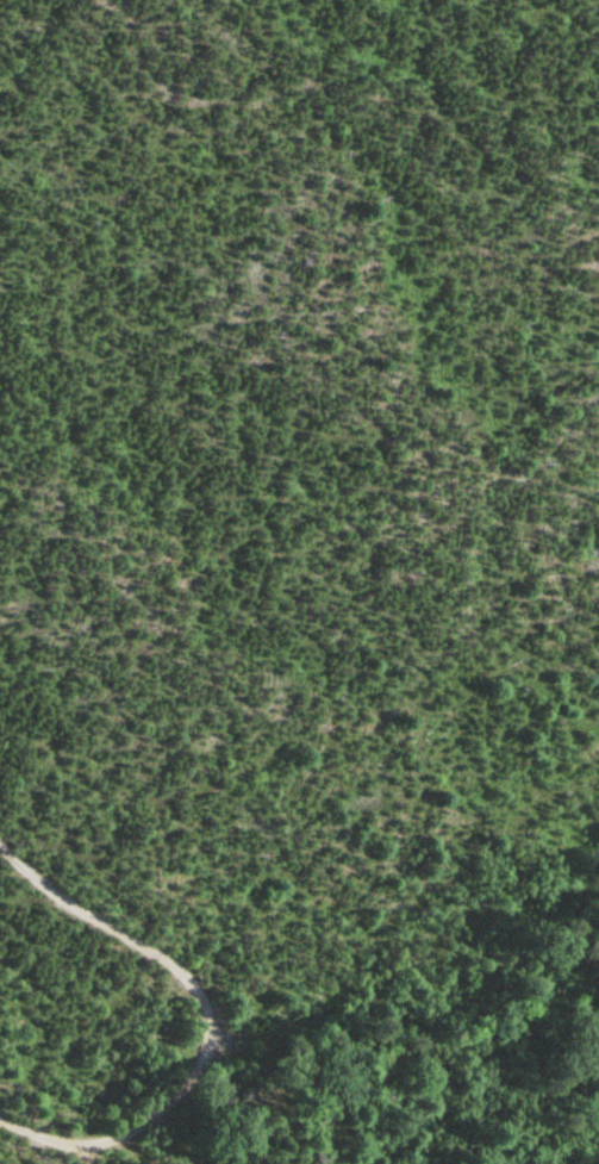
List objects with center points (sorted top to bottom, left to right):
road: (201, 1019)

